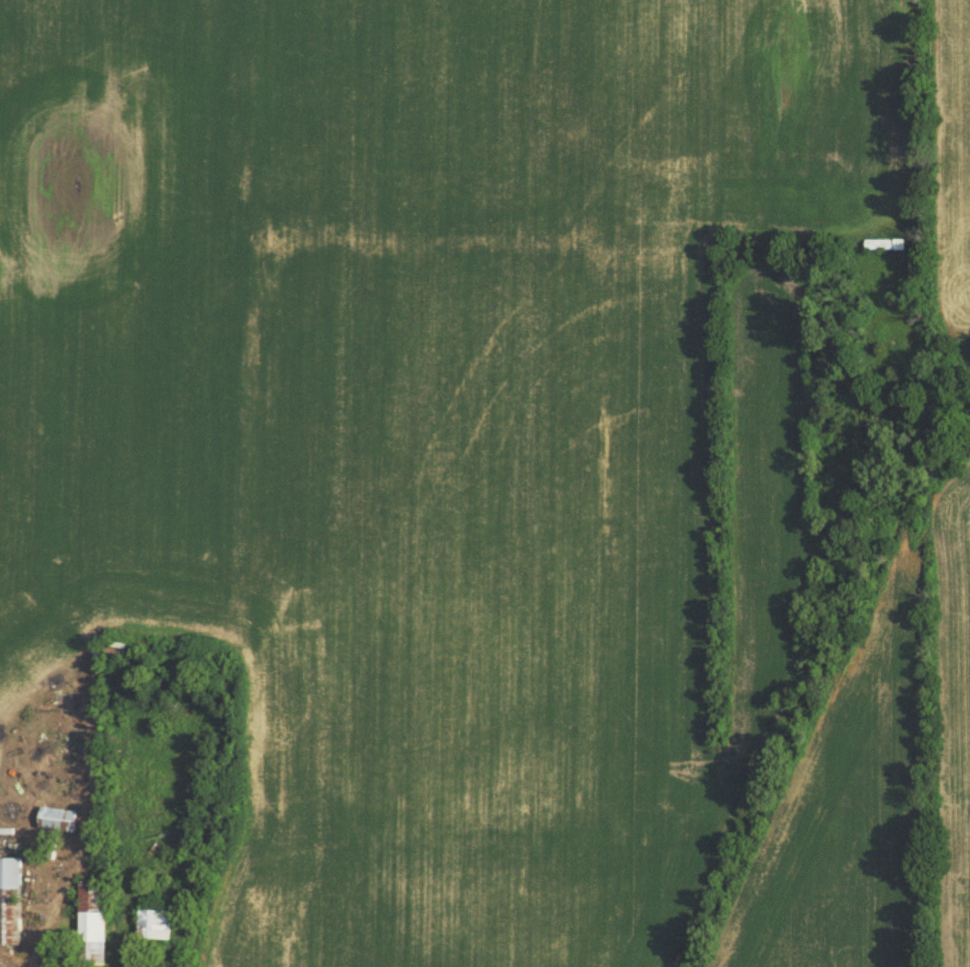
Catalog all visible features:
building: (884, 243)
building: (59, 816)
building: (10, 899)
building: (92, 922)
building: (154, 922)

